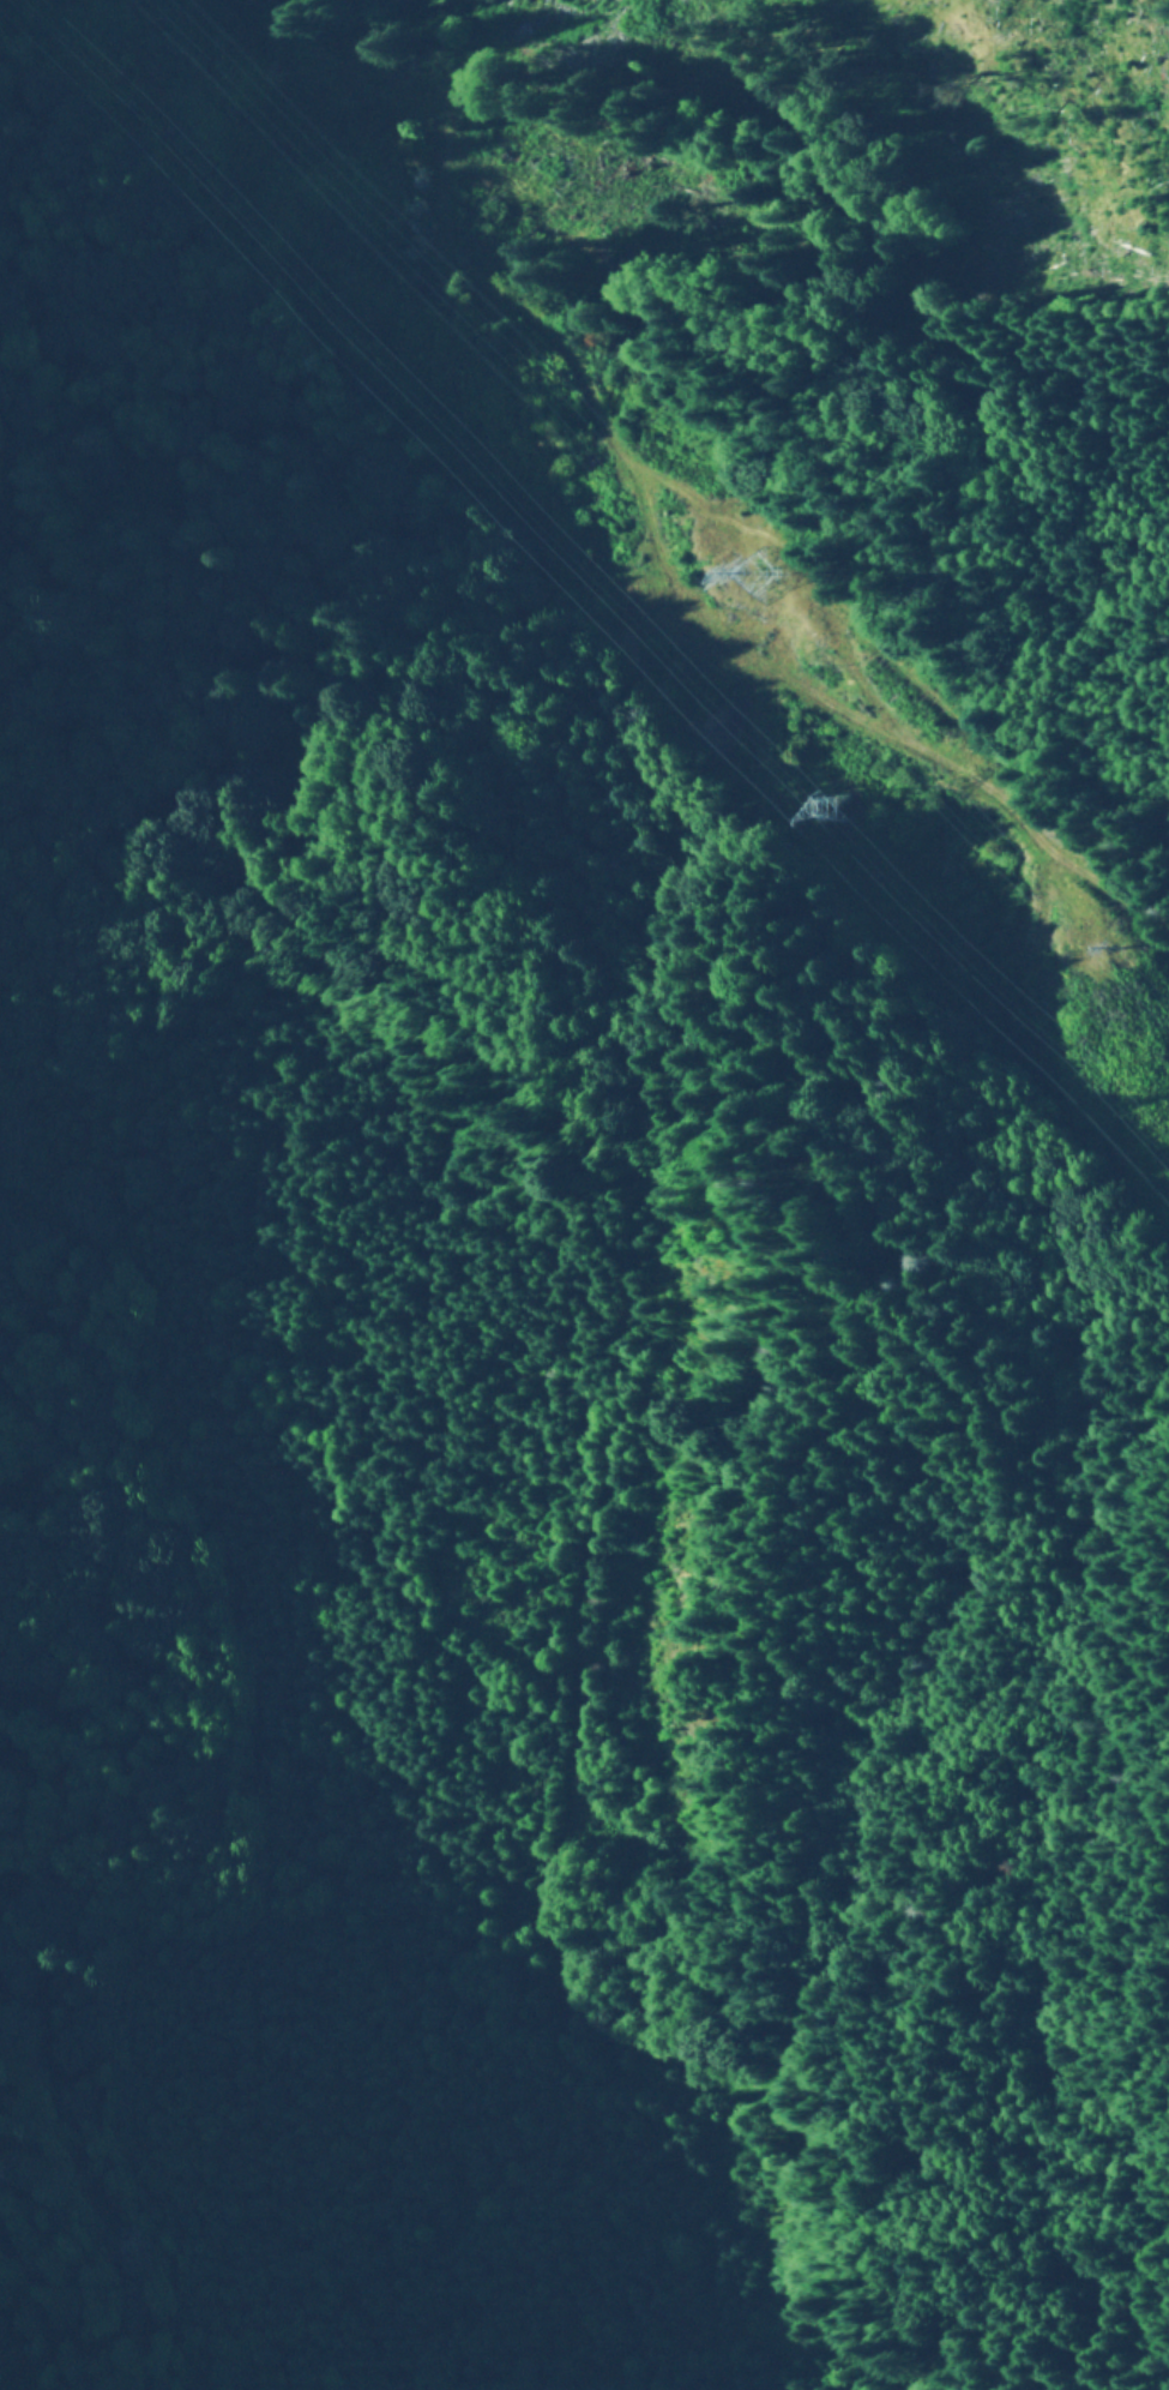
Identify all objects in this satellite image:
power tower: (761, 572)
power tower: (838, 810)
road: (948, 918)
power tower: (1125, 953)

